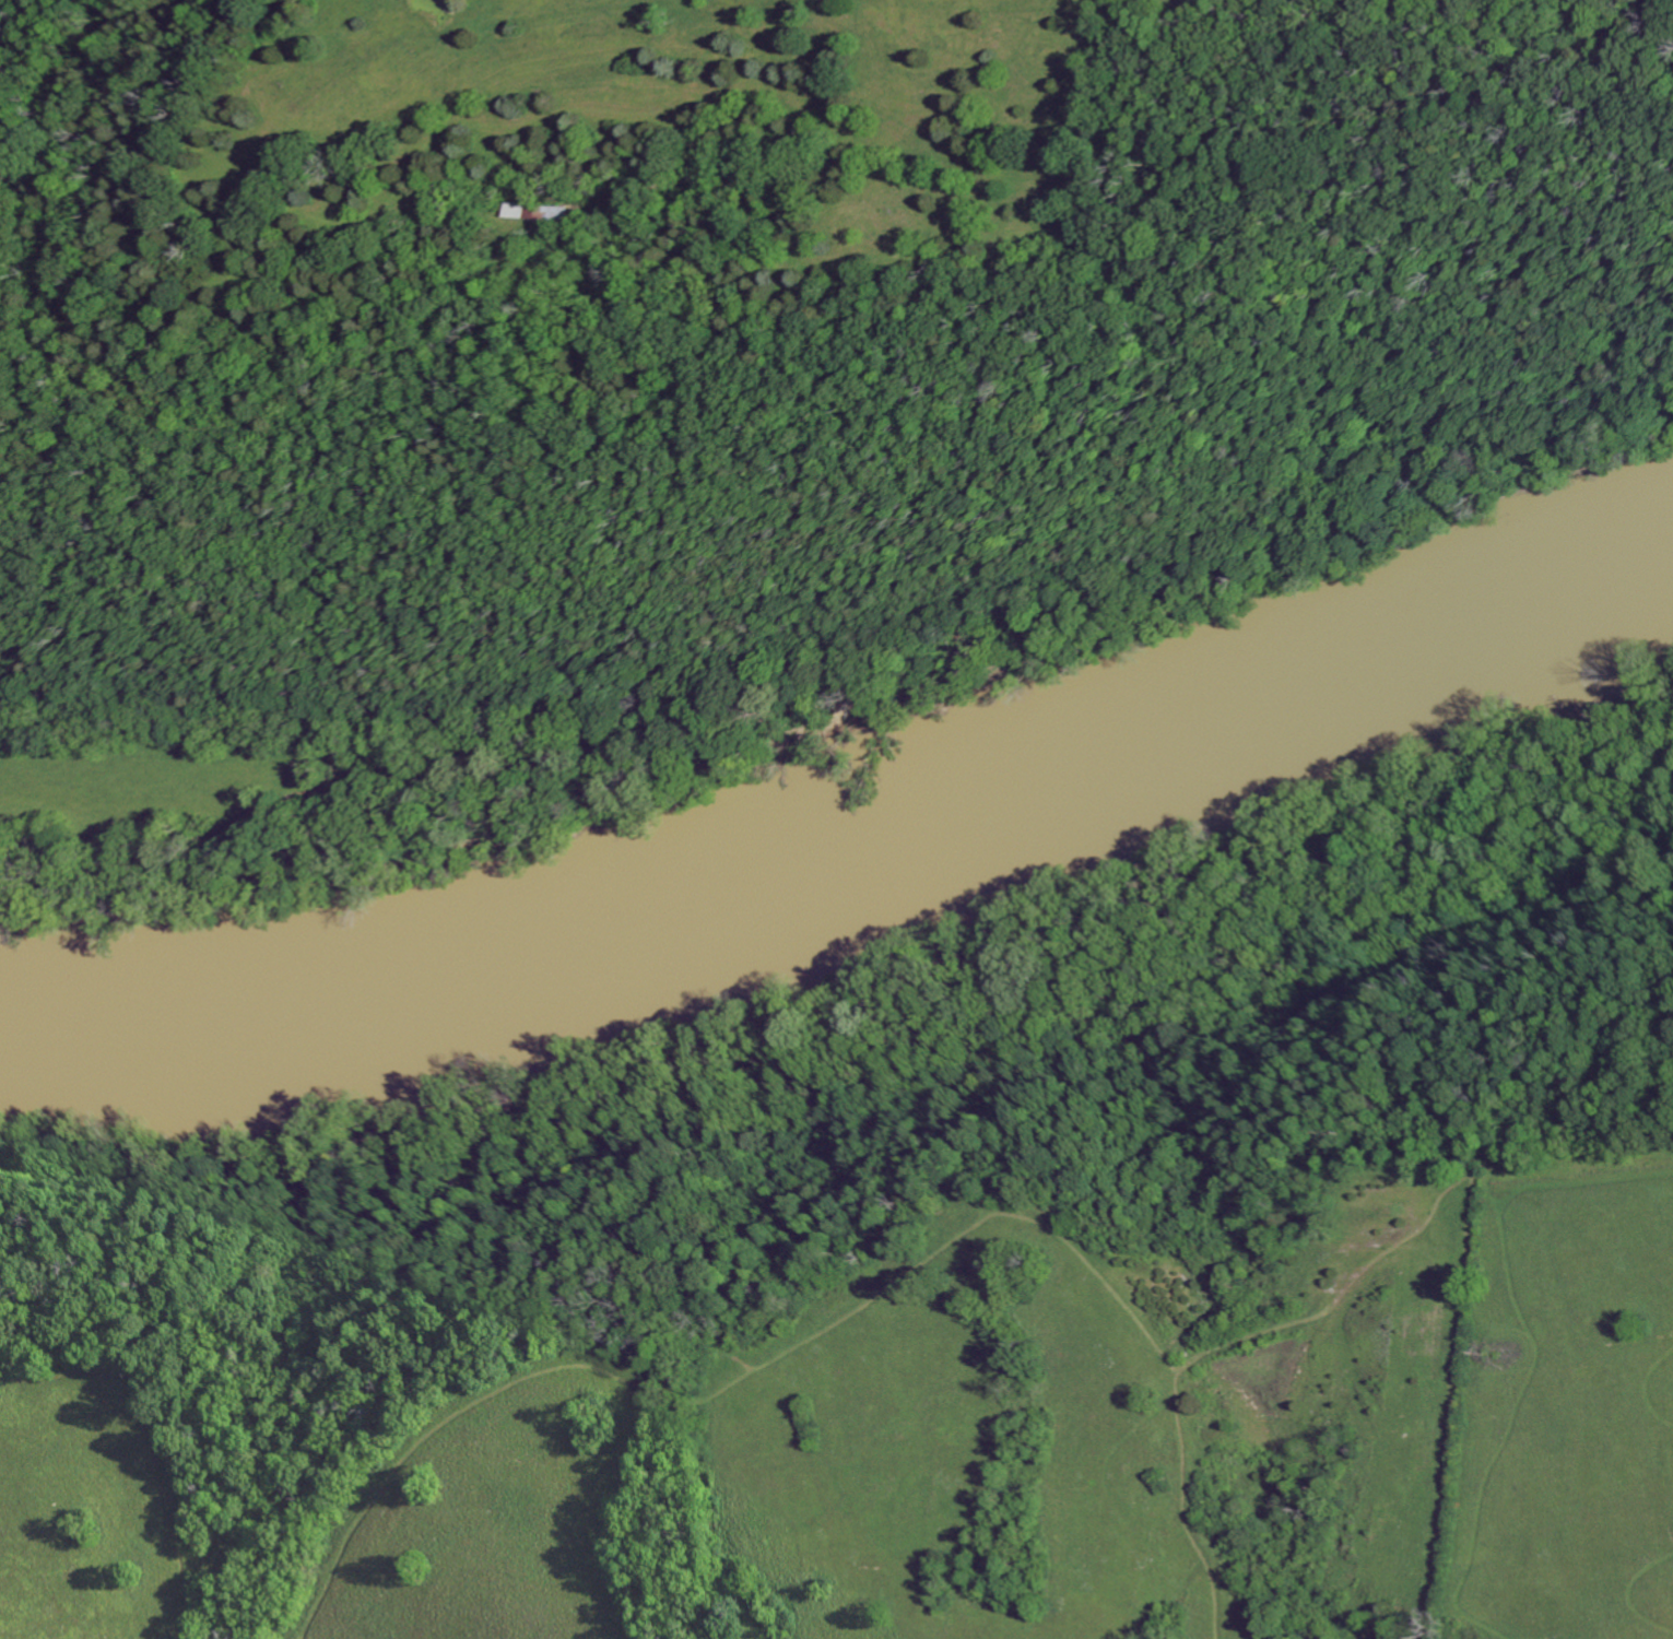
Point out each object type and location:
road: (11, 14)
building: (522, 212)
building: (563, 215)
river: (845, 827)

